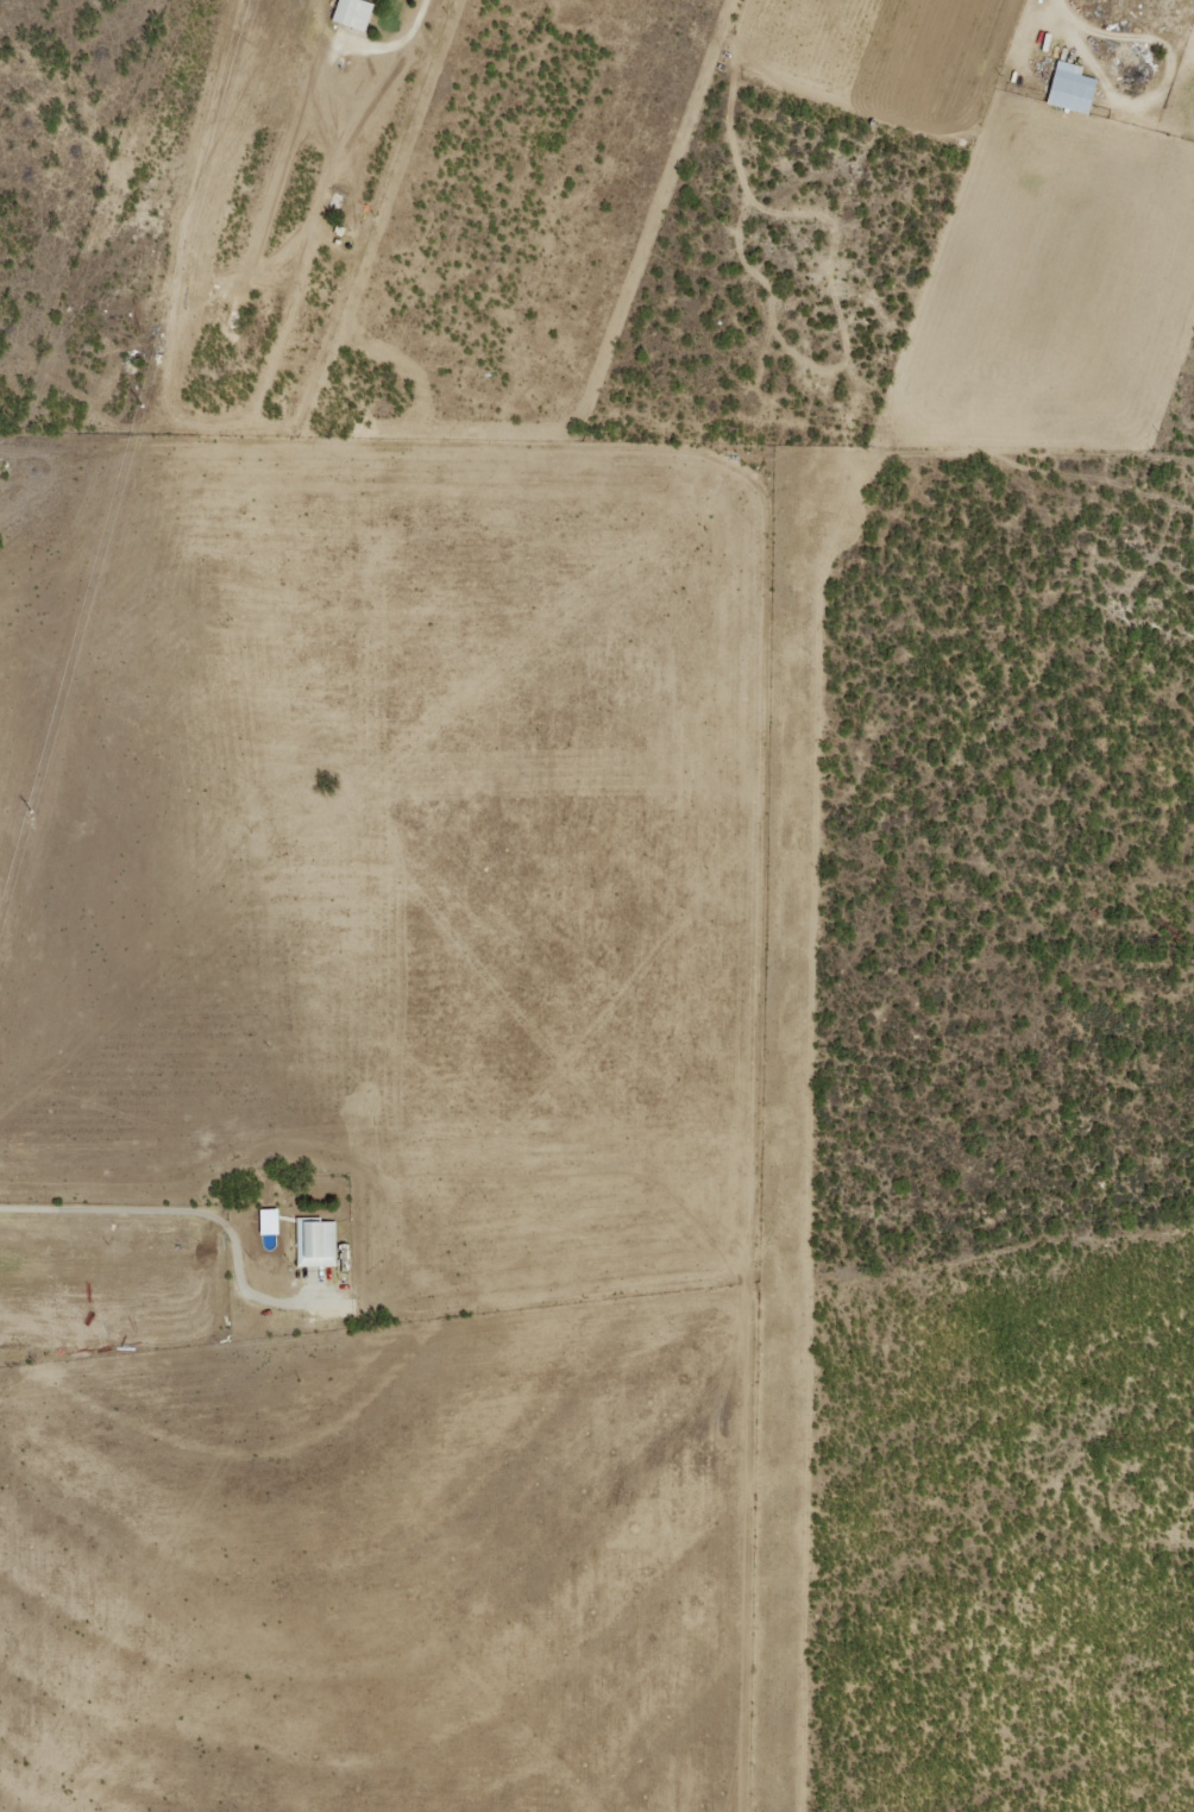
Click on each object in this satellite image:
building: (350, 13)
building: (1068, 87)
power tower: (134, 399)
power tower: (26, 811)
airport runway: (784, 1128)
road: (189, 1209)
building: (315, 1241)

